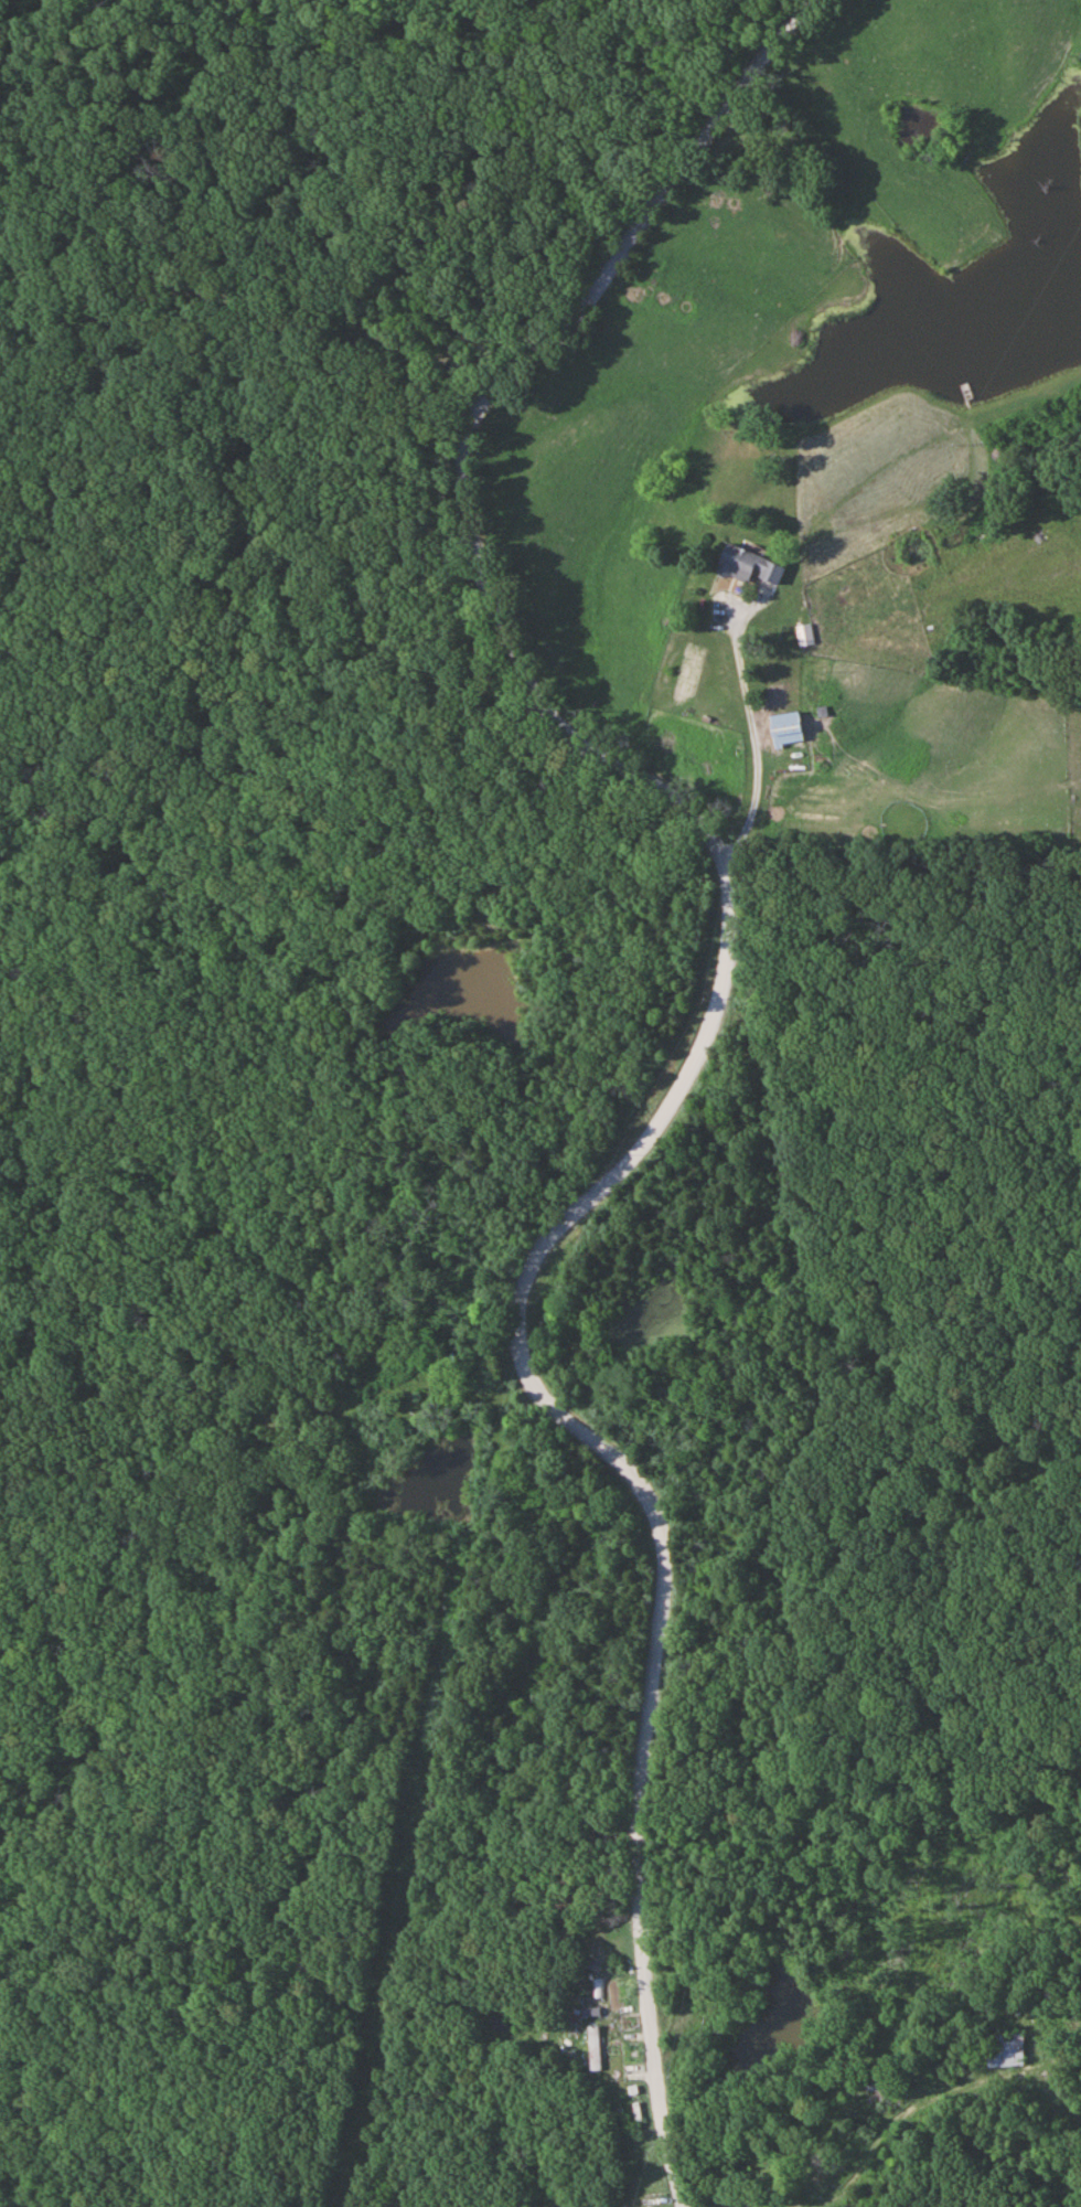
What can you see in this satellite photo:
road: (255, 314)
building: (747, 568)
building: (785, 731)
road: (756, 744)
road: (694, 1049)
building: (593, 2049)
building: (1004, 2050)
road: (876, 2134)

